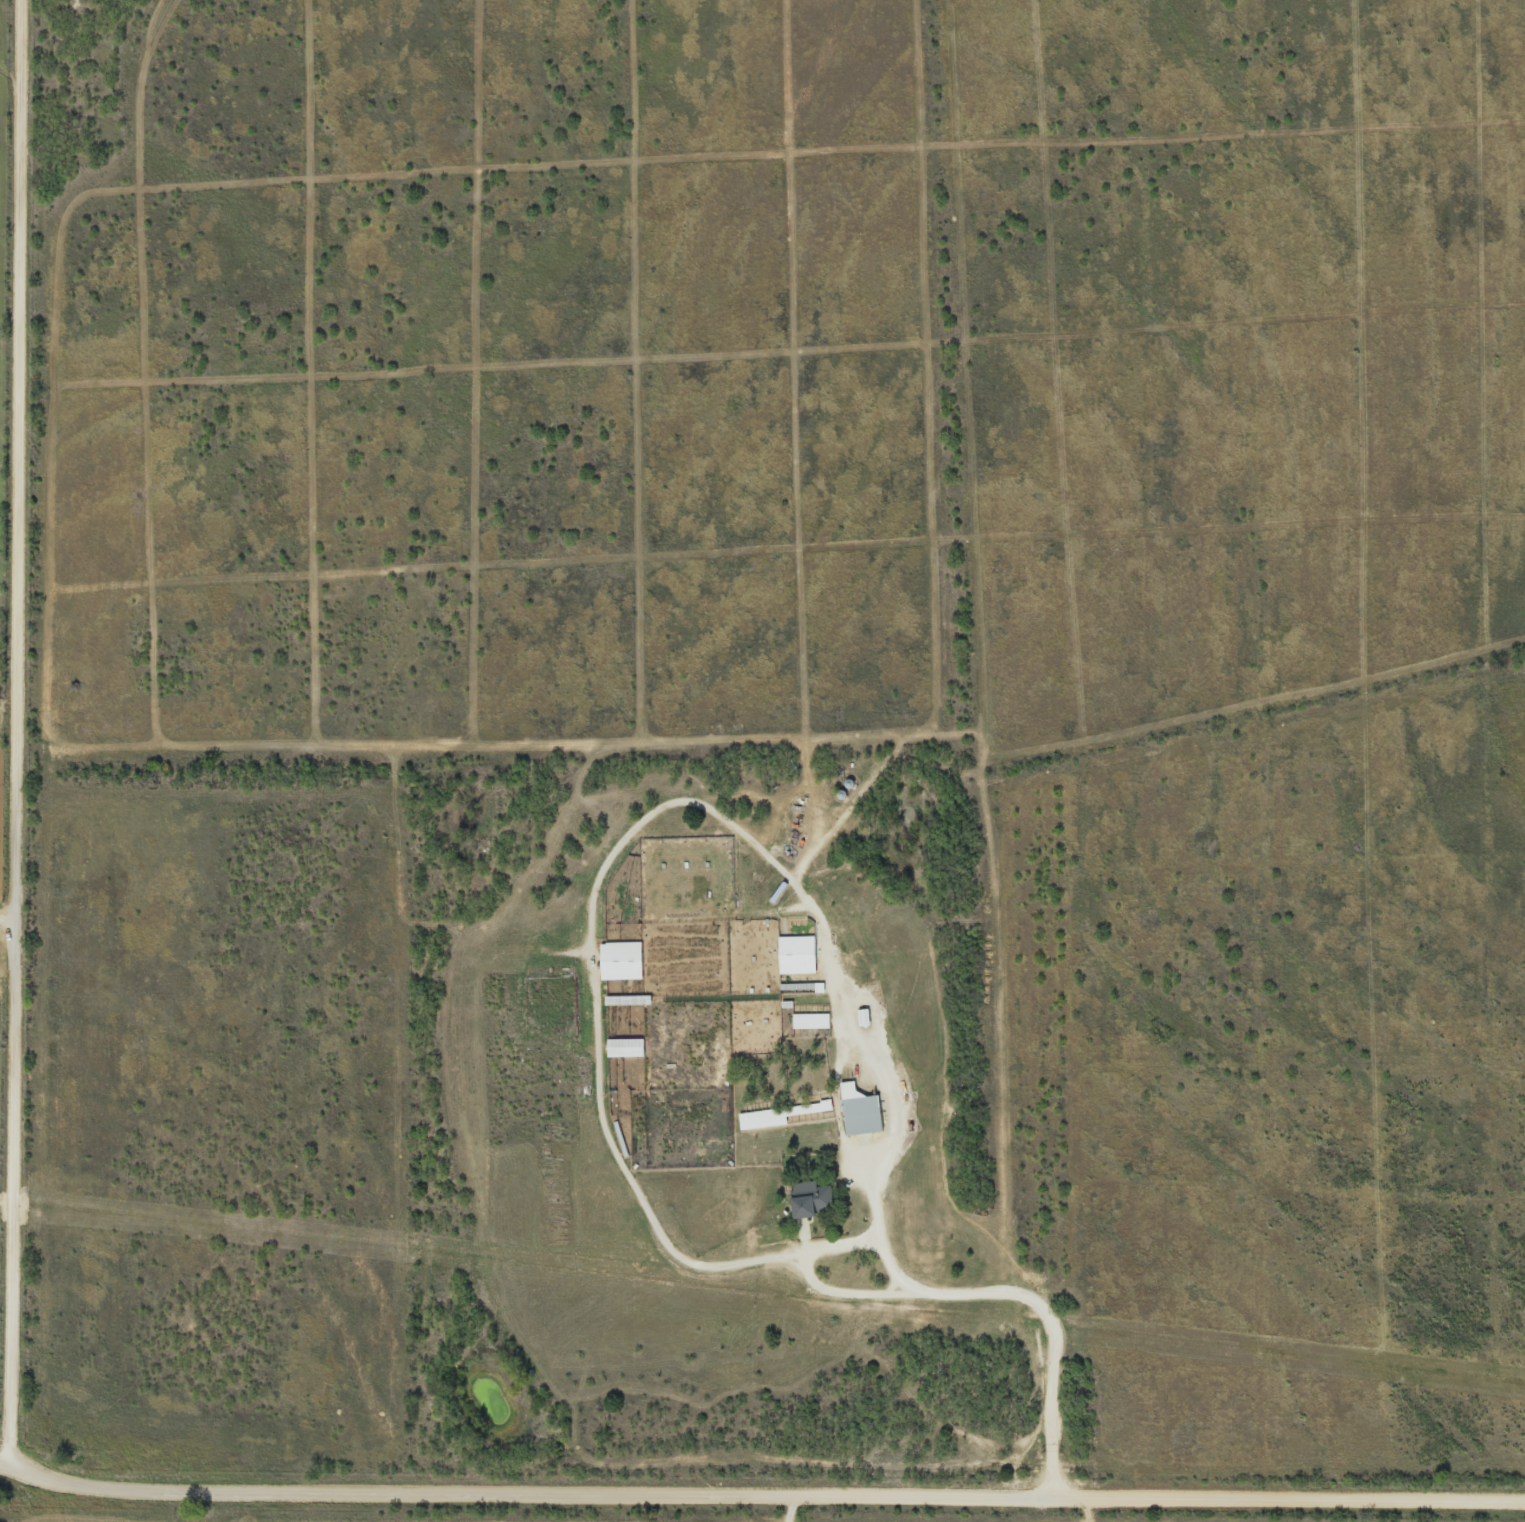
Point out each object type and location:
road: (27, 725)
building: (795, 955)
building: (620, 961)
road: (852, 1015)
building: (862, 1018)
building: (810, 1021)
road: (1266, 1039)
building: (624, 1048)
building: (859, 1112)
building: (776, 1116)
building: (811, 1201)
road: (339, 1514)
road: (1472, 1519)

